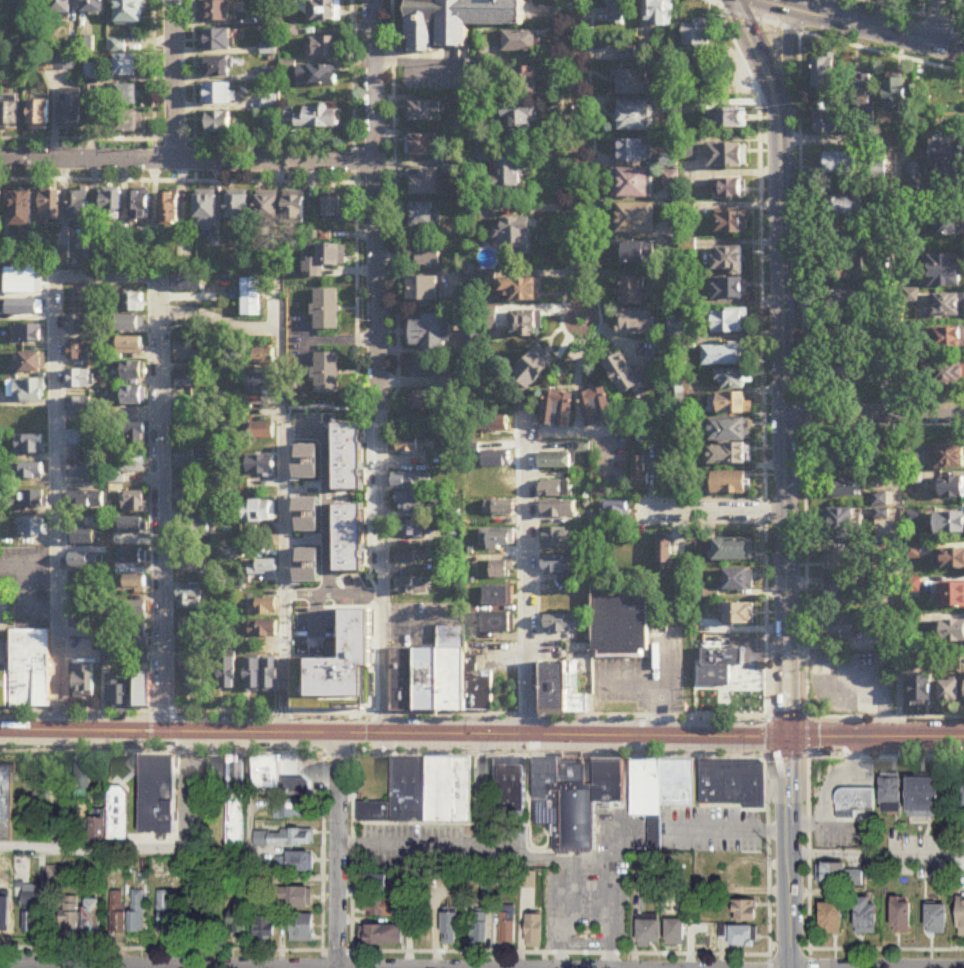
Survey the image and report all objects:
road: (713, 1)
building: (92, 5)
road: (717, 5)
building: (59, 6)
building: (20, 7)
building: (217, 11)
building: (325, 11)
road: (916, 11)
building: (128, 12)
building: (621, 12)
building: (657, 13)
building: (457, 20)
road: (937, 22)
road: (870, 26)
building: (697, 38)
building: (218, 40)
road: (841, 40)
building: (520, 42)
building: (117, 46)
building: (324, 47)
building: (125, 66)
building: (217, 67)
road: (786, 69)
building: (90, 72)
building: (318, 76)
building: (824, 79)
road: (175, 81)
building: (522, 82)
building: (631, 84)
building: (894, 91)
building: (218, 94)
building: (127, 95)
building: (271, 103)
building: (70, 111)
building: (423, 112)
building: (9, 116)
building: (37, 116)
building: (632, 117)
building: (311, 118)
building: (731, 119)
building: (824, 122)
building: (129, 123)
building: (219, 123)
building: (516, 124)
building: (272, 127)
building: (422, 146)
building: (632, 151)
building: (728, 156)
road: (187, 162)
road: (575, 162)
building: (840, 165)
building: (947, 166)
building: (509, 174)
building: (914, 181)
building: (671, 182)
building: (424, 183)
building: (630, 184)
building: (731, 190)
building: (111, 205)
building: (0, 207)
building: (51, 207)
building: (139, 207)
building: (842, 207)
building: (238, 208)
building: (169, 209)
building: (267, 209)
building: (21, 210)
building: (78, 210)
building: (294, 210)
building: (331, 210)
building: (206, 212)
building: (424, 216)
building: (635, 220)
building: (950, 222)
building: (732, 223)
building: (515, 239)
building: (842, 239)
building: (690, 252)
building: (638, 255)
building: (90, 256)
building: (428, 256)
building: (325, 261)
building: (728, 261)
building: (845, 268)
road: (357, 271)
building: (946, 272)
road: (106, 275)
building: (188, 286)
building: (729, 290)
building: (423, 291)
building: (521, 291)
building: (634, 292)
road: (158, 294)
building: (249, 298)
building: (842, 302)
building: (133, 303)
building: (948, 306)
building: (326, 310)
road: (220, 321)
building: (634, 323)
building: (728, 323)
building: (525, 324)
building: (78, 325)
building: (259, 331)
building: (426, 332)
building: (29, 335)
road: (341, 339)
building: (949, 340)
building: (129, 349)
building: (80, 352)
building: (186, 354)
building: (260, 356)
building: (724, 357)
building: (32, 364)
road: (784, 365)
road: (378, 367)
building: (425, 368)
building: (533, 368)
building: (132, 371)
building: (327, 372)
building: (845, 372)
building: (884, 372)
building: (944, 374)
building: (628, 378)
building: (78, 380)
building: (259, 380)
building: (732, 380)
building: (188, 382)
road: (894, 383)
building: (28, 391)
building: (677, 396)
building: (132, 397)
building: (424, 401)
building: (730, 405)
building: (80, 408)
building: (596, 408)
building: (558, 410)
road: (56, 412)
road: (875, 417)
building: (491, 424)
building: (262, 431)
building: (729, 431)
building: (134, 435)
building: (83, 438)
building: (29, 446)
building: (409, 446)
building: (260, 454)
building: (347, 456)
building: (727, 456)
building: (949, 457)
building: (883, 458)
building: (844, 459)
building: (190, 460)
building: (554, 462)
building: (917, 462)
building: (132, 466)
building: (663, 466)
building: (86, 467)
building: (31, 472)
building: (639, 473)
building: (411, 481)
building: (727, 484)
building: (843, 488)
building: (952, 488)
building: (553, 489)
building: (187, 495)
building: (34, 500)
building: (87, 501)
building: (135, 503)
building: (410, 504)
building: (499, 510)
building: (258, 512)
building: (621, 513)
road: (717, 513)
road: (161, 522)
building: (841, 524)
building: (949, 524)
building: (31, 528)
building: (194, 529)
road: (285, 530)
building: (411, 530)
building: (348, 537)
building: (554, 539)
building: (496, 540)
building: (732, 551)
building: (664, 552)
building: (412, 556)
building: (952, 560)
building: (839, 561)
building: (193, 564)
building: (555, 565)
building: (83, 567)
building: (262, 569)
building: (501, 571)
building: (232, 574)
building: (325, 576)
building: (738, 581)
building: (131, 586)
building: (412, 587)
road: (528, 596)
building: (498, 597)
building: (845, 597)
building: (952, 597)
building: (189, 599)
building: (262, 606)
building: (137, 612)
building: (739, 616)
building: (82, 617)
building: (498, 624)
building: (620, 624)
building: (559, 625)
building: (843, 629)
building: (193, 630)
building: (260, 631)
building: (952, 633)
road: (60, 640)
building: (130, 640)
building: (108, 660)
building: (144, 662)
building: (30, 670)
building: (197, 674)
building: (228, 675)
building: (252, 677)
building: (271, 677)
building: (714, 678)
building: (439, 679)
building: (83, 681)
road: (857, 681)
building: (562, 687)
road: (657, 688)
building: (4, 690)
building: (142, 691)
building: (116, 692)
building: (948, 693)
building: (921, 694)
road: (789, 720)
road: (394, 735)
road: (770, 737)
road: (807, 737)
traffic signals: (789, 739)
road: (876, 739)
road: (340, 753)
road: (768, 755)
road: (788, 755)
road: (807, 757)
building: (237, 775)
building: (84, 776)
building: (610, 781)
building: (733, 782)
road: (484, 785)
building: (282, 789)
building: (511, 790)
building: (660, 791)
building: (424, 793)
building: (158, 794)
building: (890, 794)
building: (961, 796)
building: (549, 797)
building: (923, 798)
building: (855, 799)
building: (7, 802)
building: (578, 804)
building: (118, 811)
road: (728, 826)
building: (97, 828)
building: (220, 833)
building: (284, 837)
road: (409, 841)
road: (324, 848)
road: (339, 851)
road: (518, 851)
road: (808, 852)
road: (352, 853)
road: (790, 853)
road: (877, 853)
road: (768, 854)
road: (584, 860)
building: (298, 861)
building: (873, 870)
building: (831, 873)
building: (295, 898)
building: (382, 907)
building: (119, 910)
building: (137, 910)
building: (168, 910)
building: (745, 910)
building: (31, 912)
building: (4, 915)
building: (70, 915)
building: (866, 915)
building: (901, 915)
building: (960, 915)
building: (93, 916)
building: (831, 917)
building: (201, 918)
building: (238, 919)
building: (936, 919)
building: (265, 927)
building: (302, 927)
building: (450, 928)
building: (478, 928)
building: (507, 928)
building: (534, 930)
building: (675, 931)
building: (649, 932)
building: (384, 934)
building: (739, 934)
road: (789, 944)
road: (887, 946)
road: (337, 948)
road: (810, 957)
road: (770, 960)
road: (55, 967)

